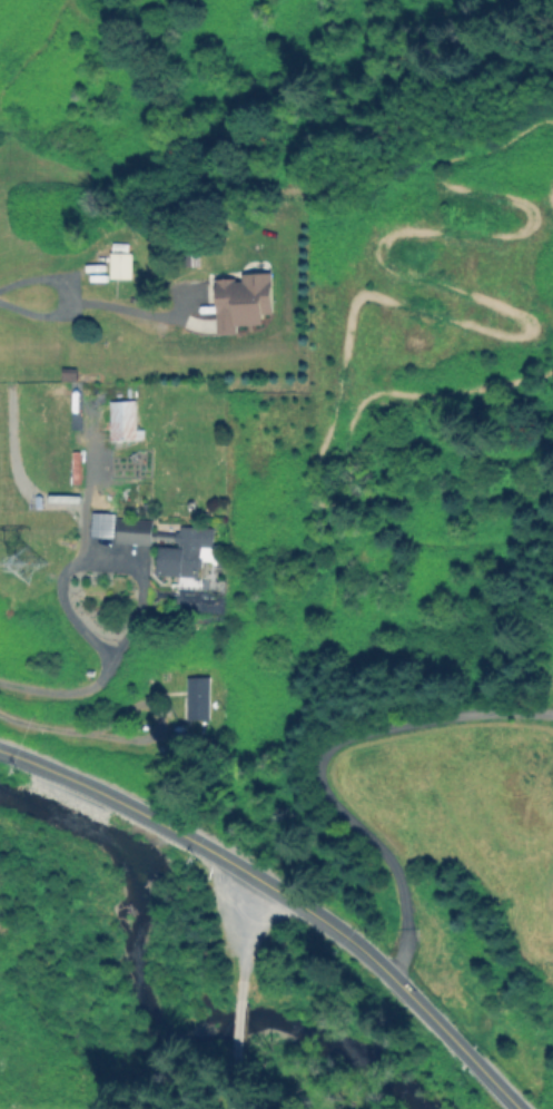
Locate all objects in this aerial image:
building: (119, 259)
building: (243, 300)
road: (96, 305)
building: (122, 420)
building: (100, 523)
building: (132, 530)
road: (102, 542)
building: (182, 551)
road: (65, 691)
building: (197, 697)
road: (155, 714)
road: (48, 727)
road: (318, 764)
road: (285, 894)
road: (240, 993)

